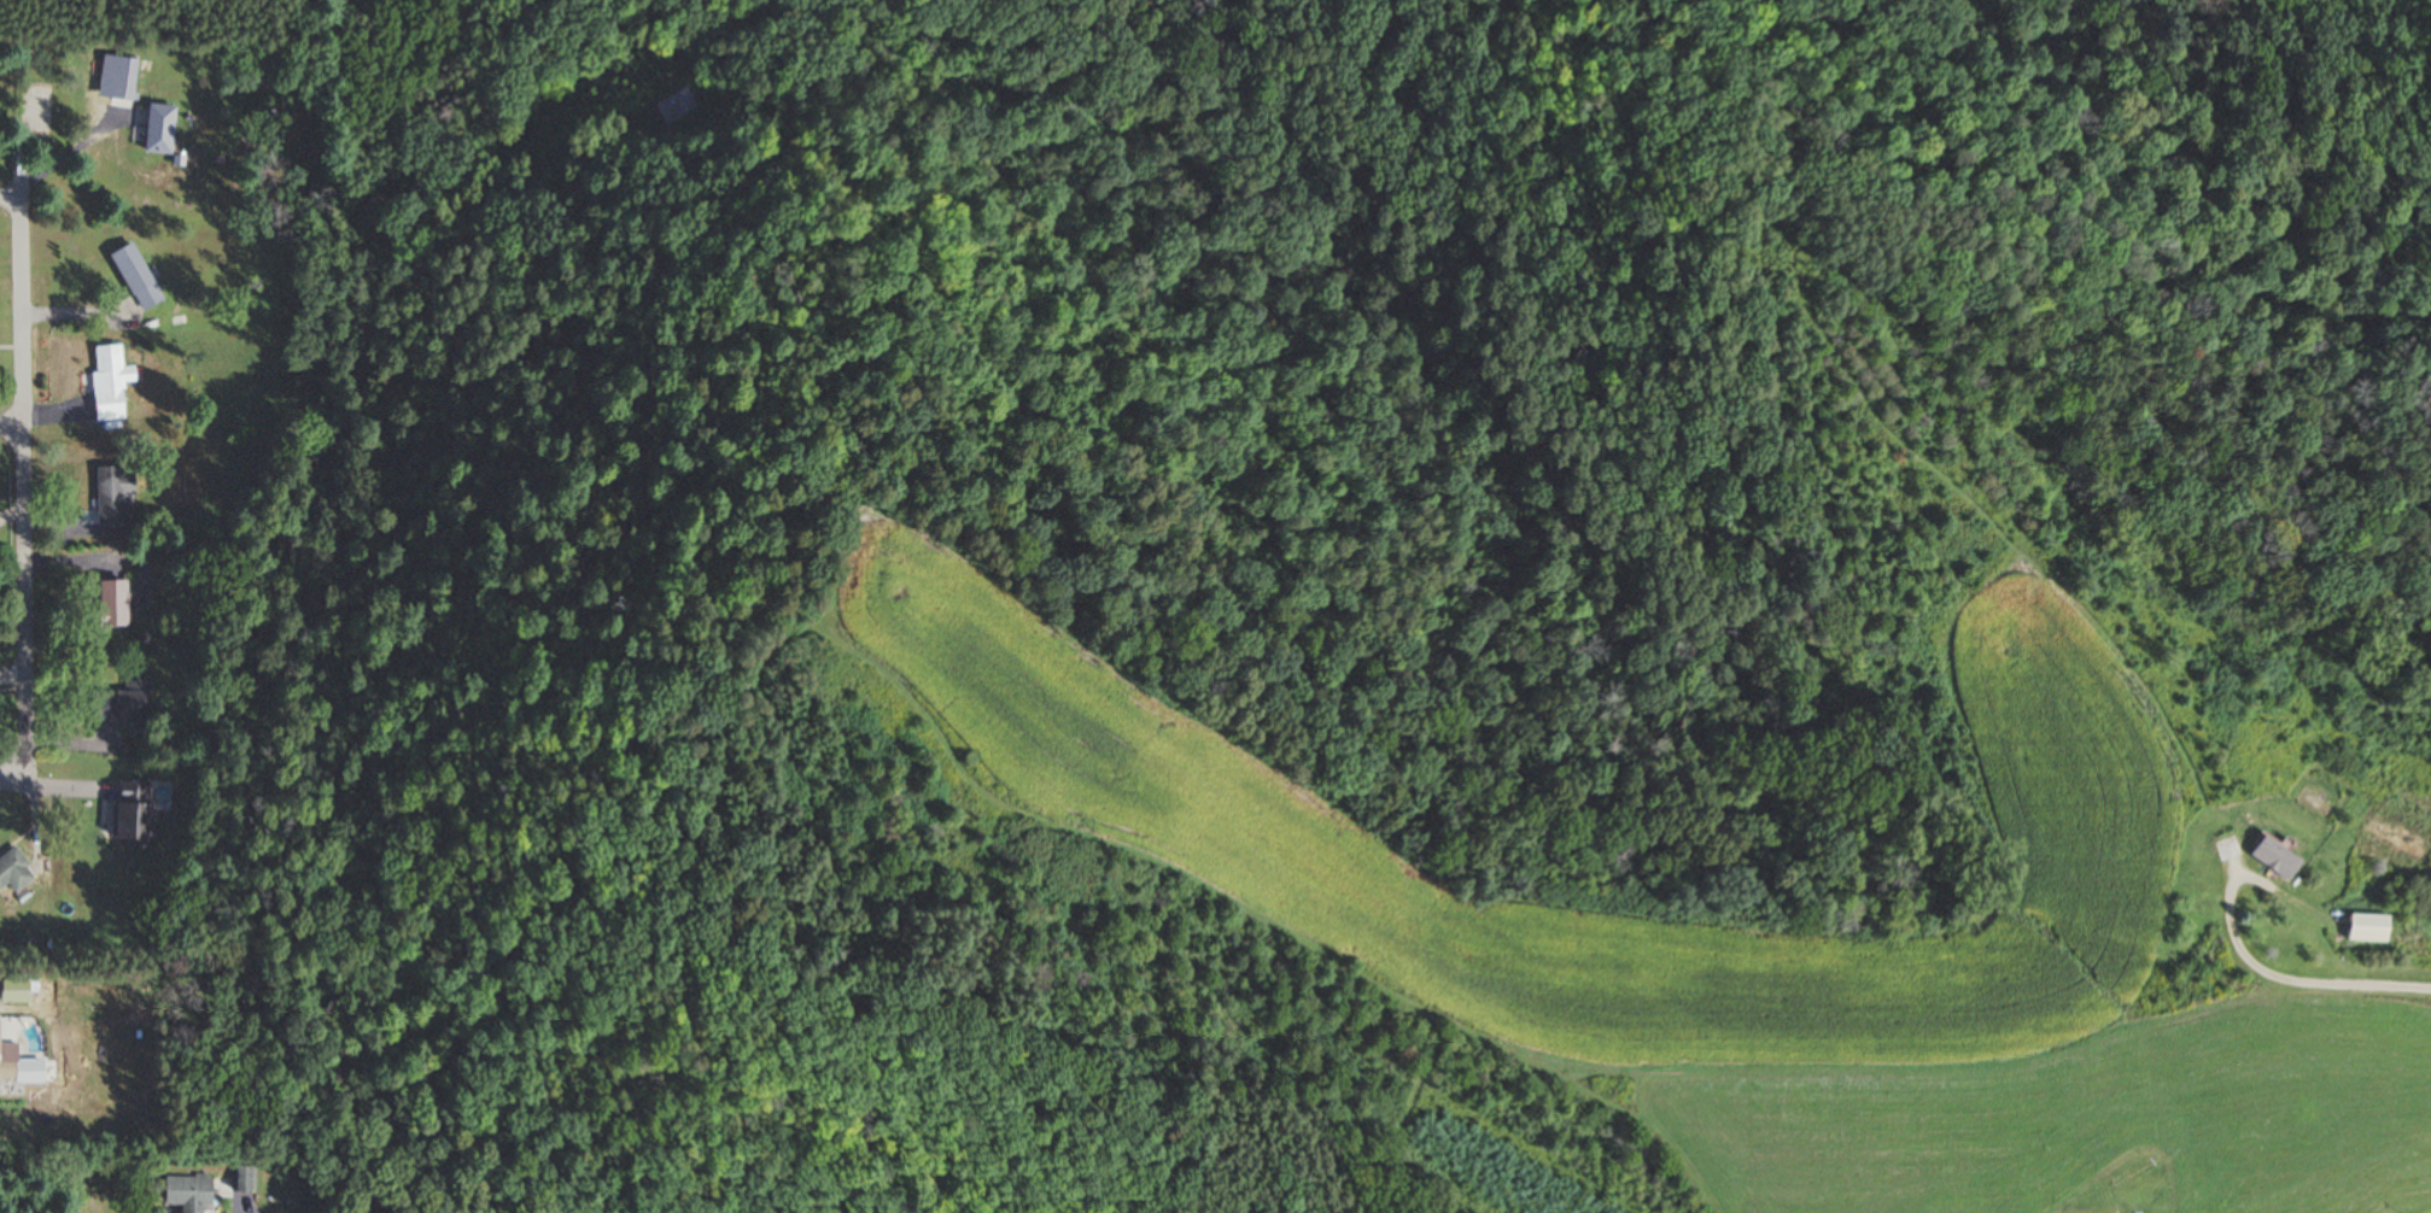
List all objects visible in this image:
building: (127, 76)
building: (674, 107)
building: (160, 121)
road: (10, 197)
building: (138, 275)
building: (110, 381)
road: (10, 420)
road: (21, 488)
building: (115, 496)
building: (113, 604)
building: (130, 703)
road: (13, 781)
building: (133, 811)
building: (2273, 859)
building: (14, 872)
building: (2367, 928)
road: (2281, 971)
building: (8, 1062)
building: (242, 1179)
building: (188, 1193)

